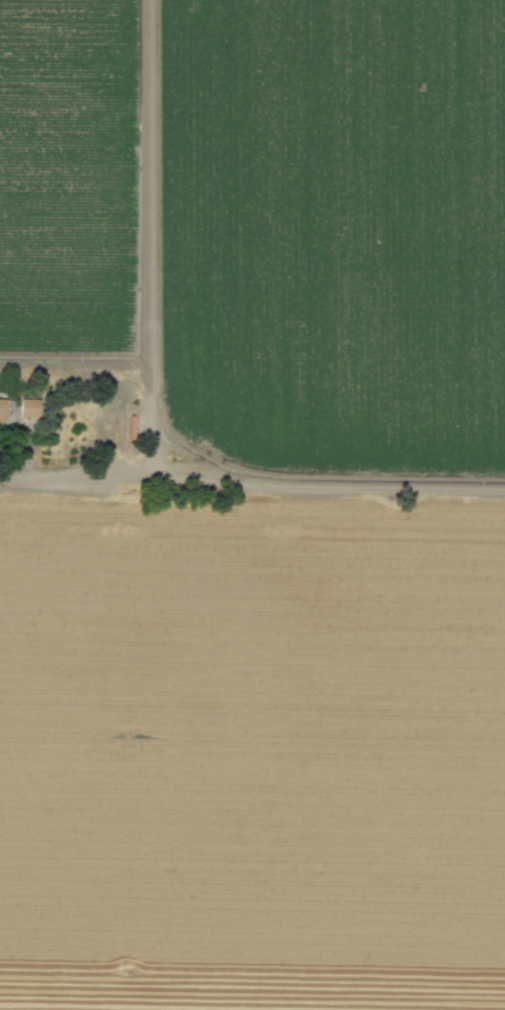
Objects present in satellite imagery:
building: (28, 407)
road: (130, 484)
road: (382, 489)

